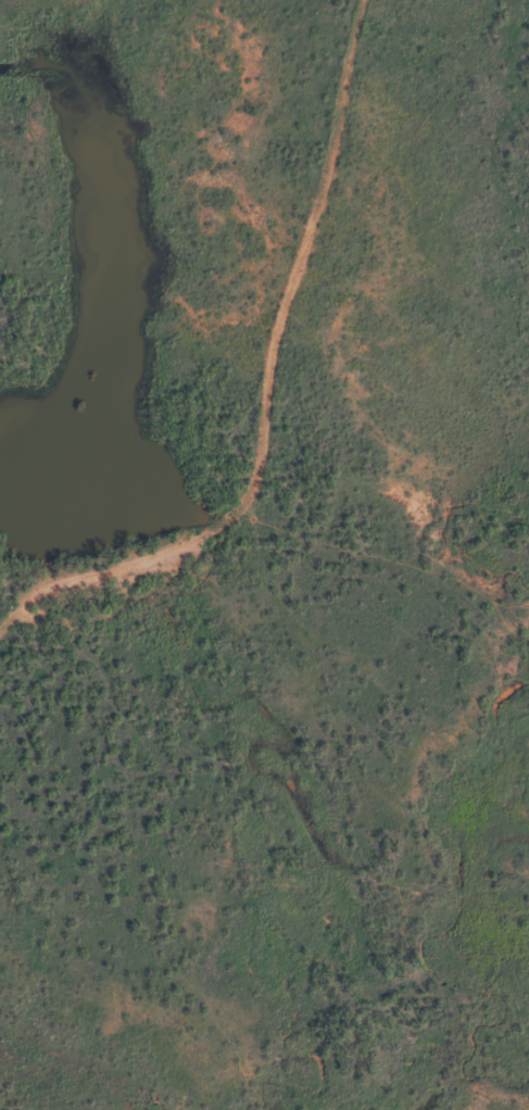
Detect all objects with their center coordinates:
road: (213, 557)

